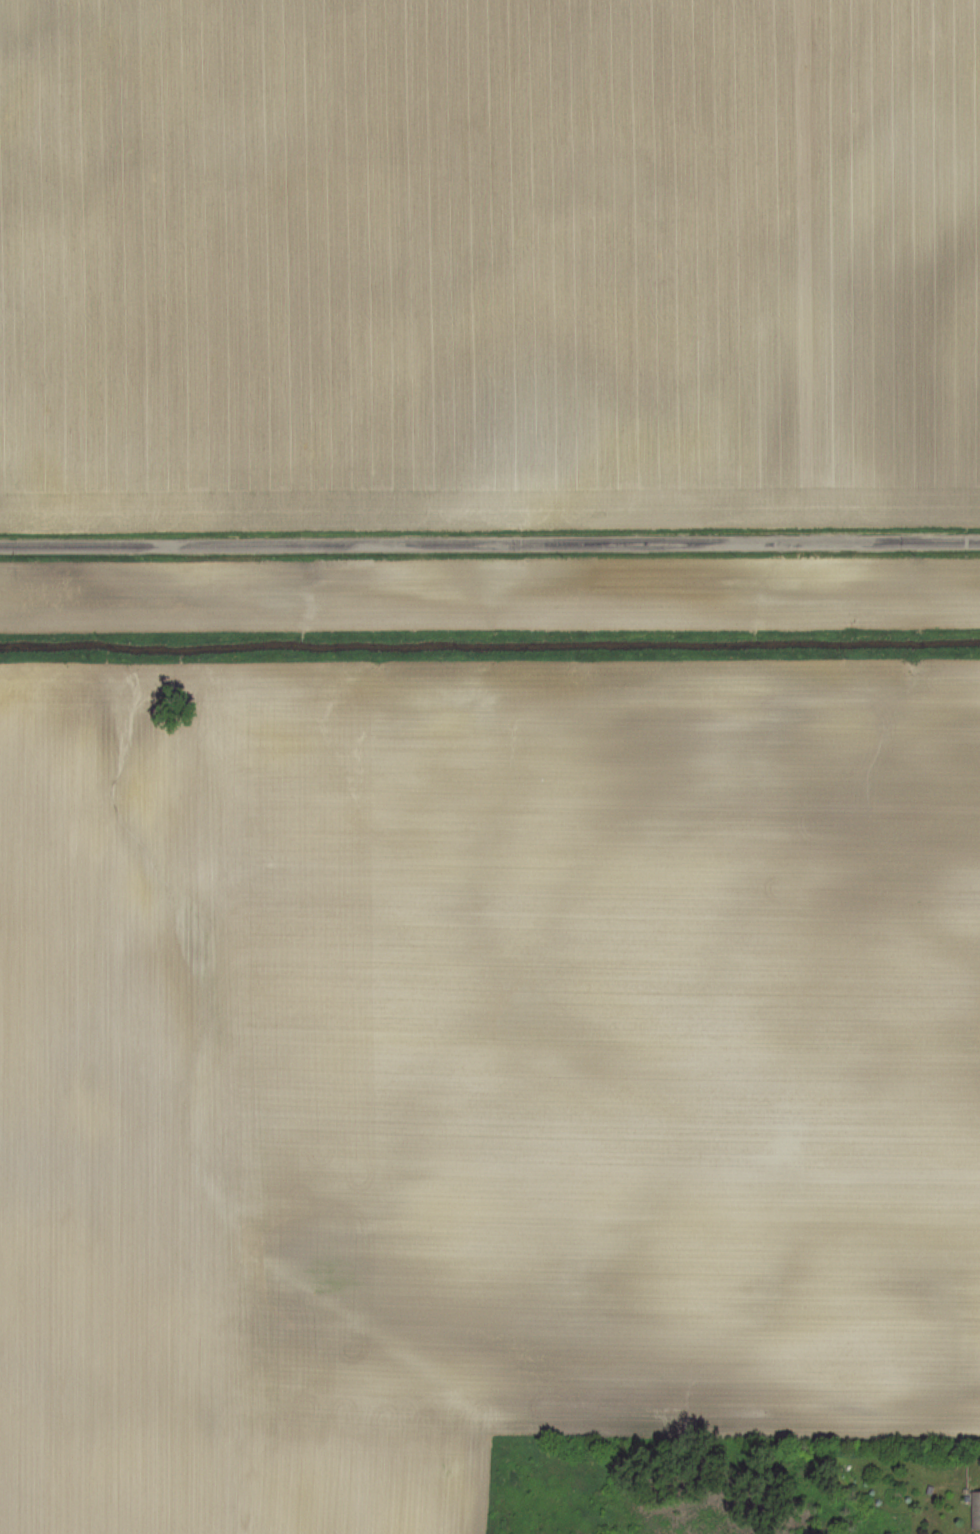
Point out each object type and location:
road: (490, 543)
building: (976, 1509)

